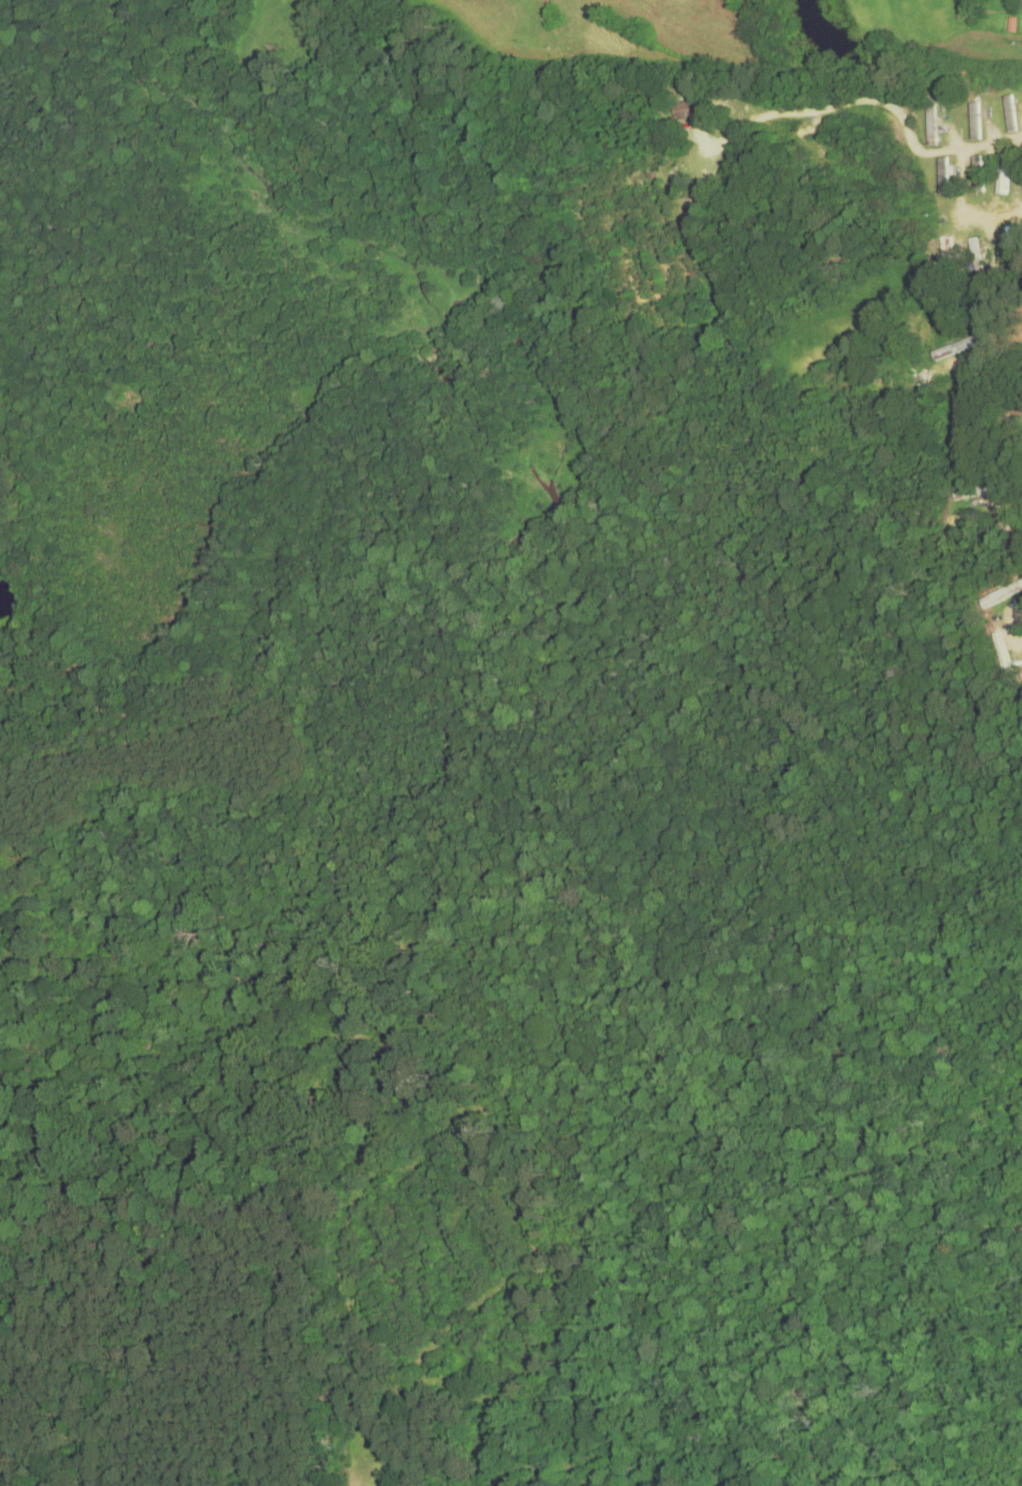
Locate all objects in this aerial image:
building: (1019, 6)
road: (880, 102)
building: (684, 111)
building: (1007, 112)
building: (974, 120)
building: (929, 127)
building: (1002, 174)
building: (942, 177)
building: (979, 178)
building: (1008, 238)
building: (976, 258)
building: (933, 259)
road: (876, 286)
building: (957, 344)
building: (1017, 410)
building: (971, 493)
building: (993, 598)
building: (1001, 653)

